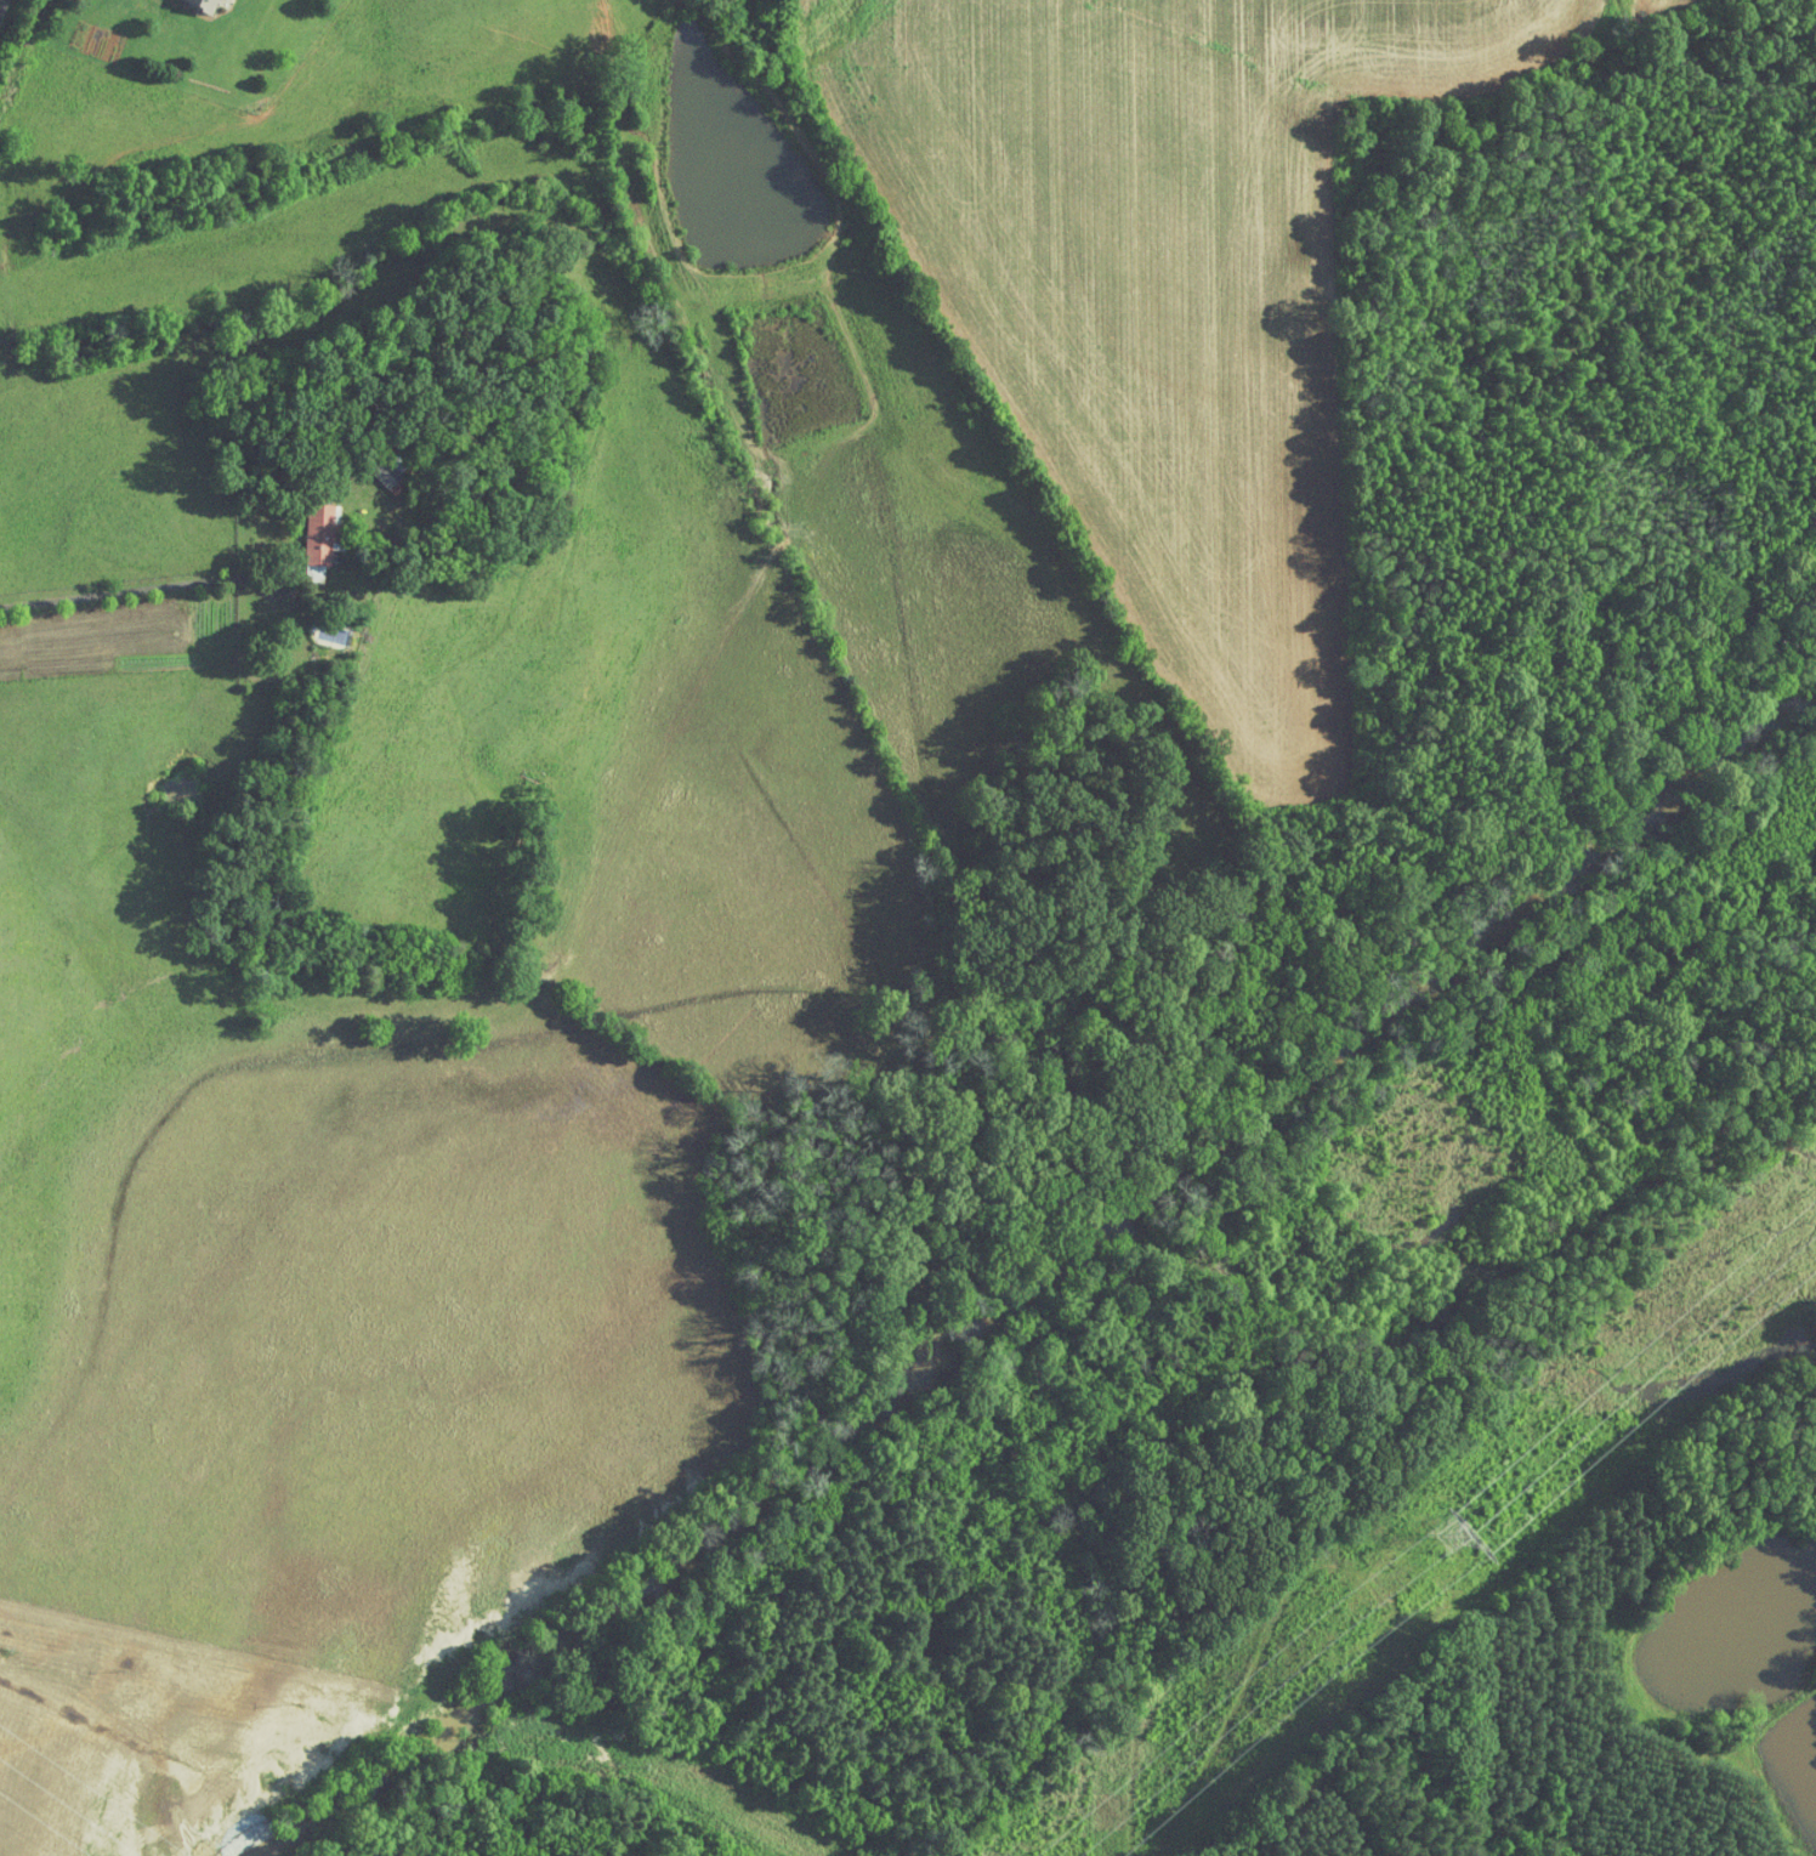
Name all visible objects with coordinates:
building: (205, 4)
road: (1, 5)
building: (393, 471)
building: (325, 530)
road: (142, 589)
power tower: (1453, 1545)

